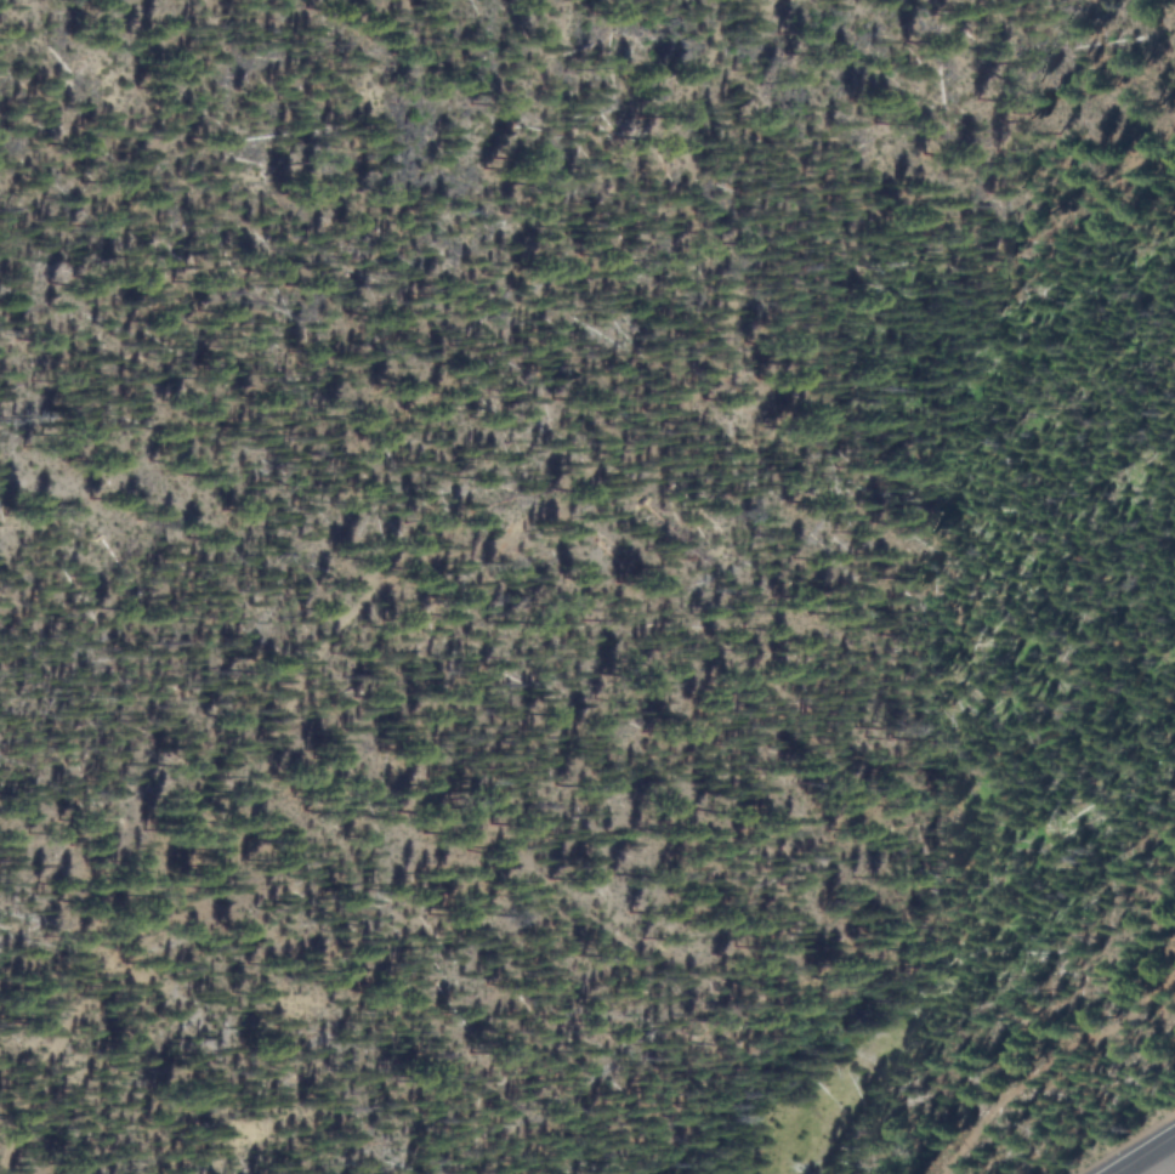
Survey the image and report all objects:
road: (1145, 1155)

